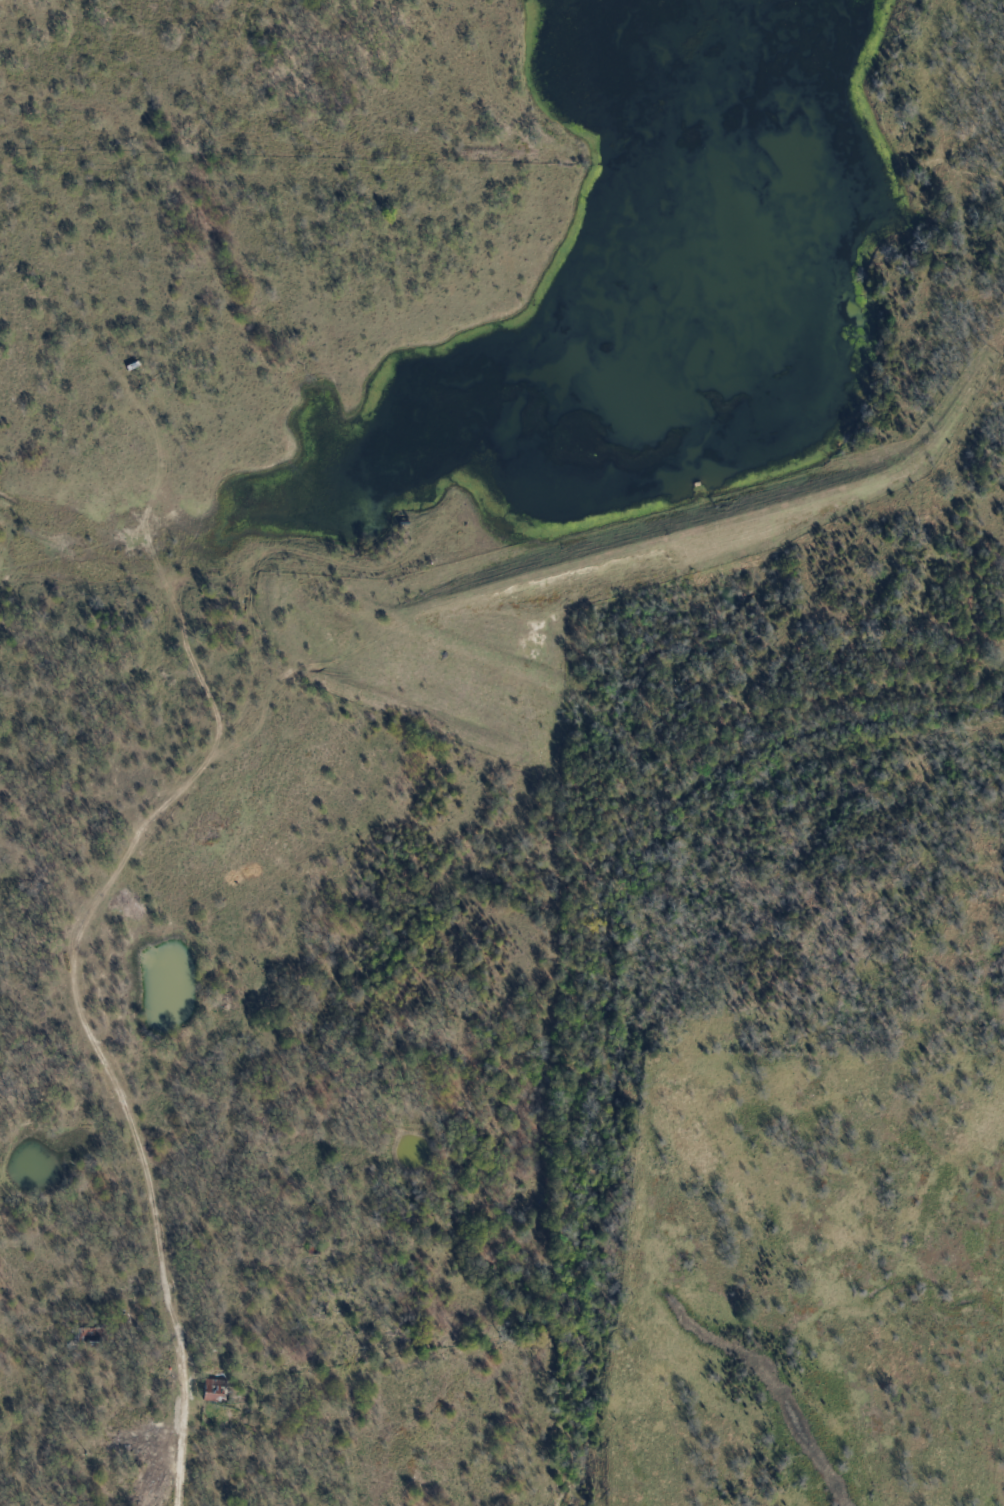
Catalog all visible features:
building: (90, 1334)
road: (181, 1451)

